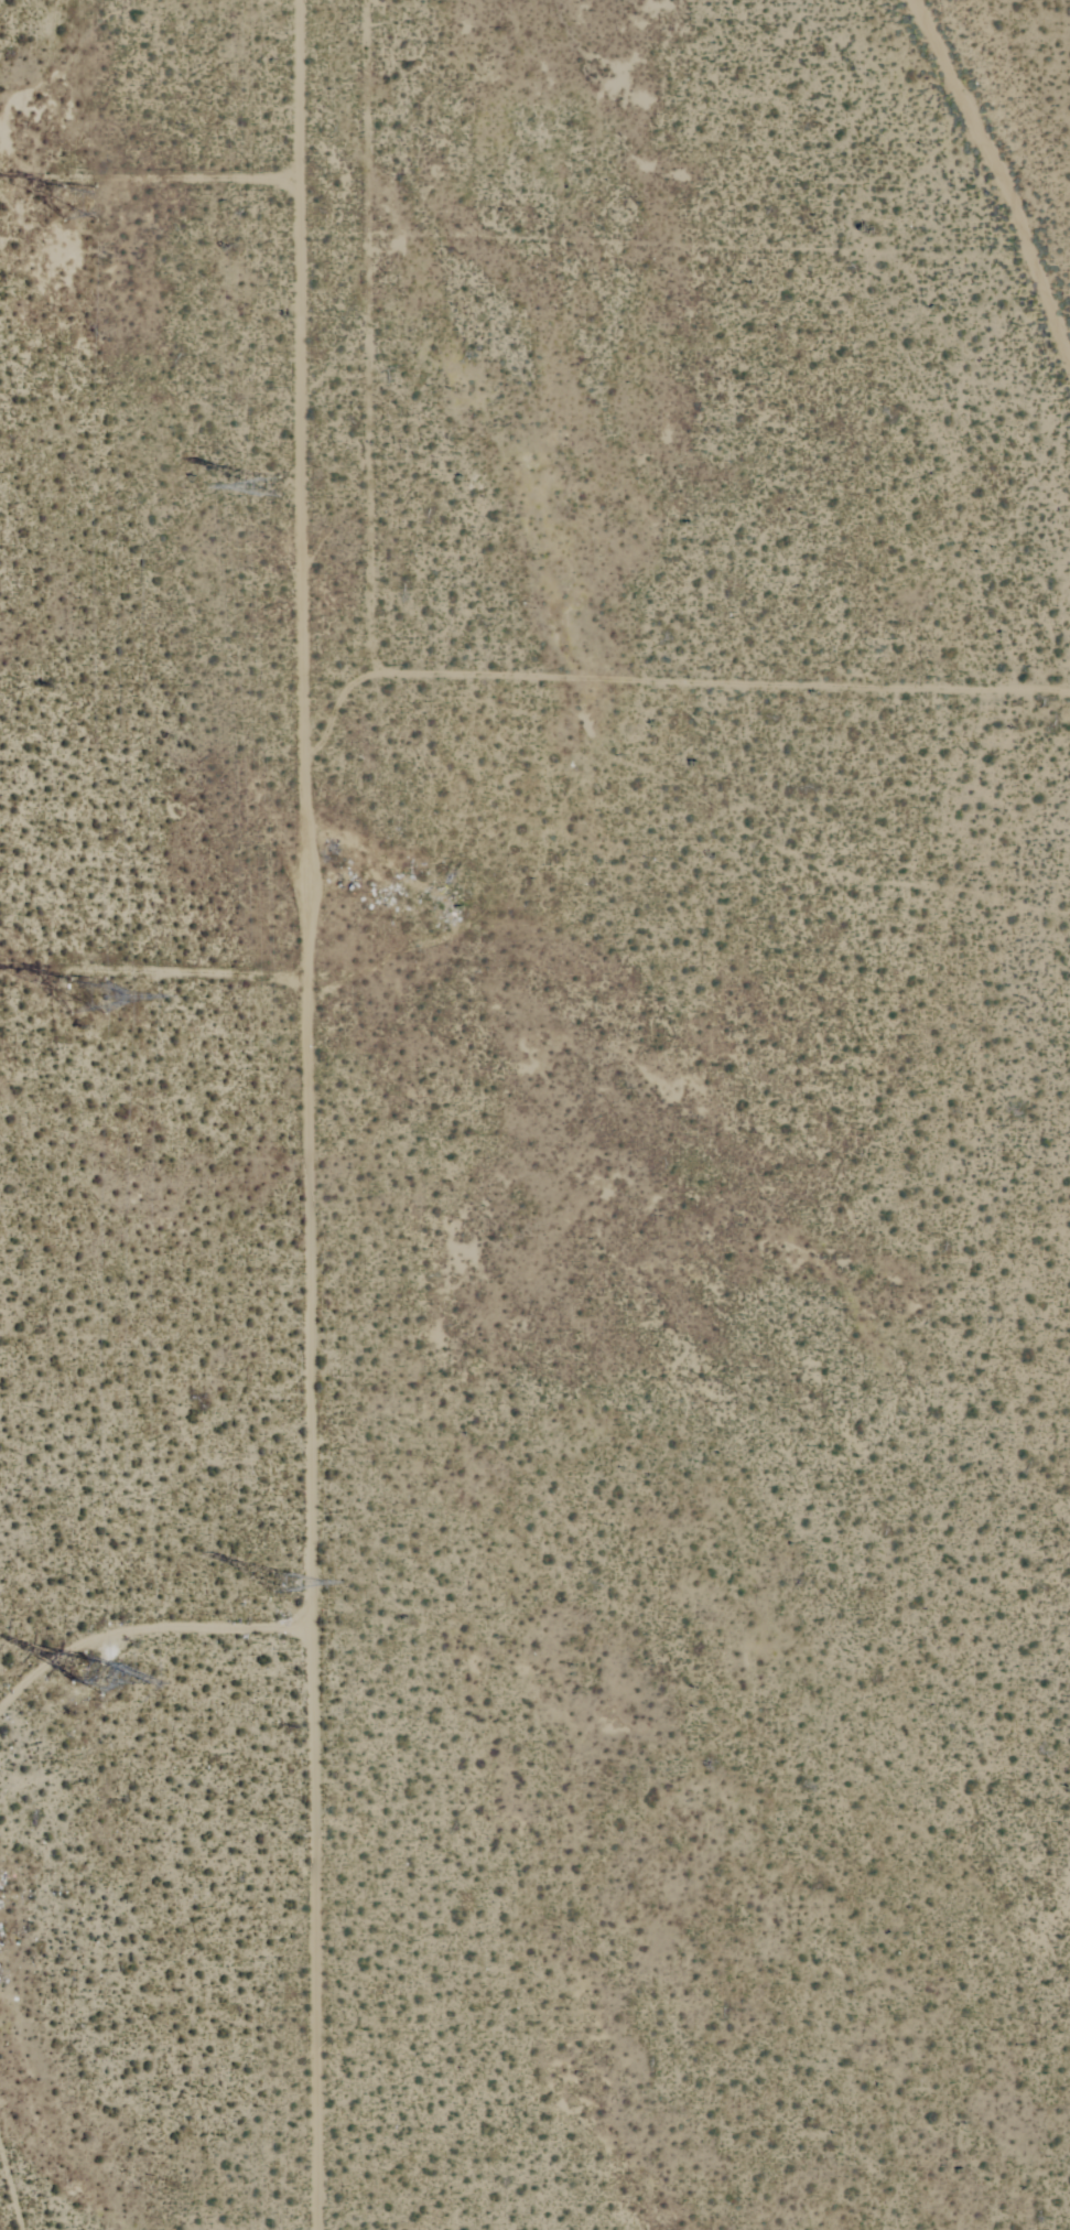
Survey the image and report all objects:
power tower: (82, 204)
road: (716, 246)
road: (366, 337)
power tower: (288, 487)
road: (722, 682)
power tower: (84, 993)
power tower: (293, 1586)
power tower: (85, 1670)

